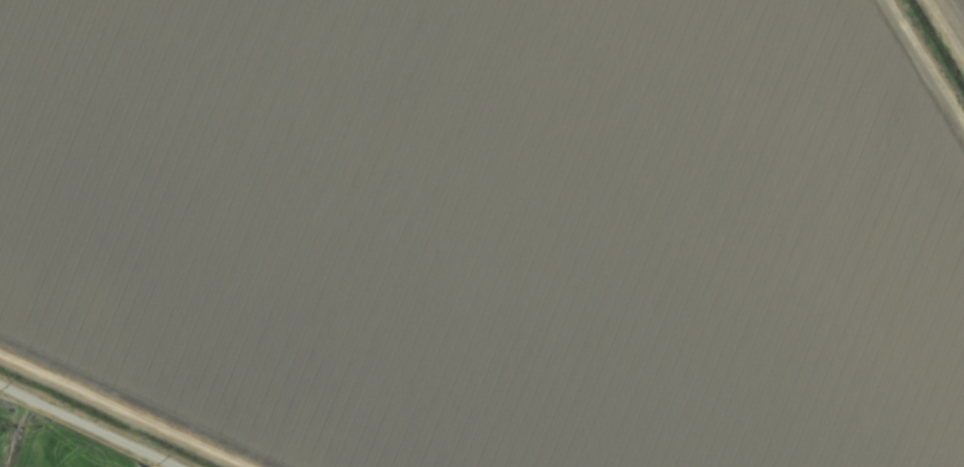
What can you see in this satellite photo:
crop: (482, 233)

